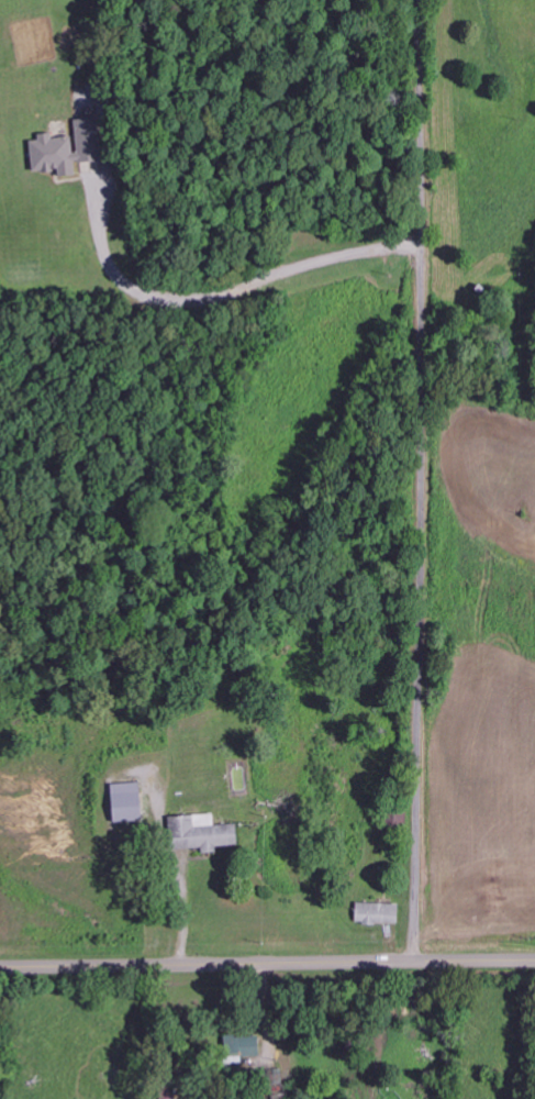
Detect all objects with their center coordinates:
building: (67, 148)
road: (422, 479)
building: (129, 802)
building: (203, 832)
building: (379, 913)
road: (267, 961)
building: (243, 1048)

